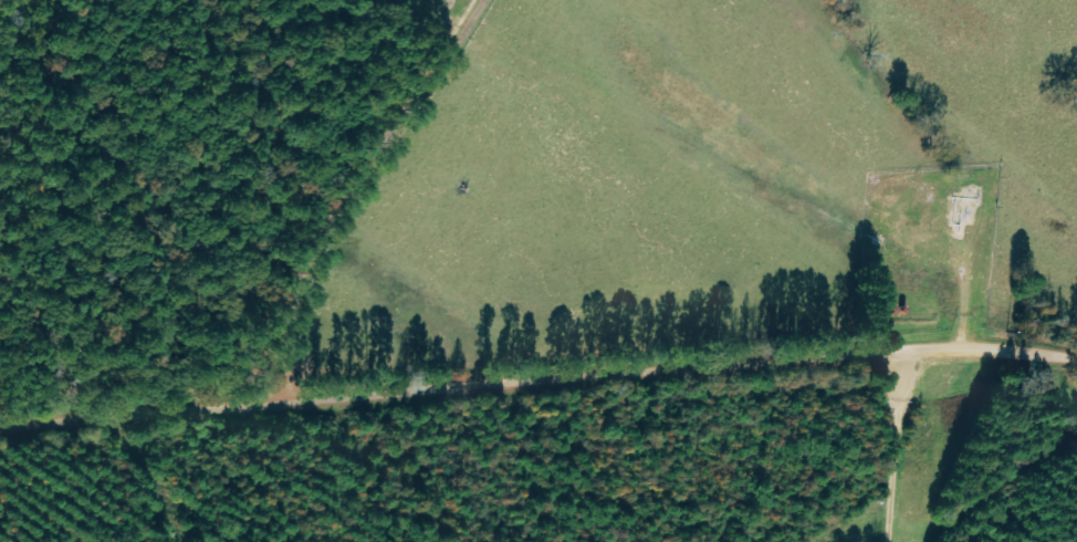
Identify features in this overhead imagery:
road: (402, 200)
road: (537, 402)

